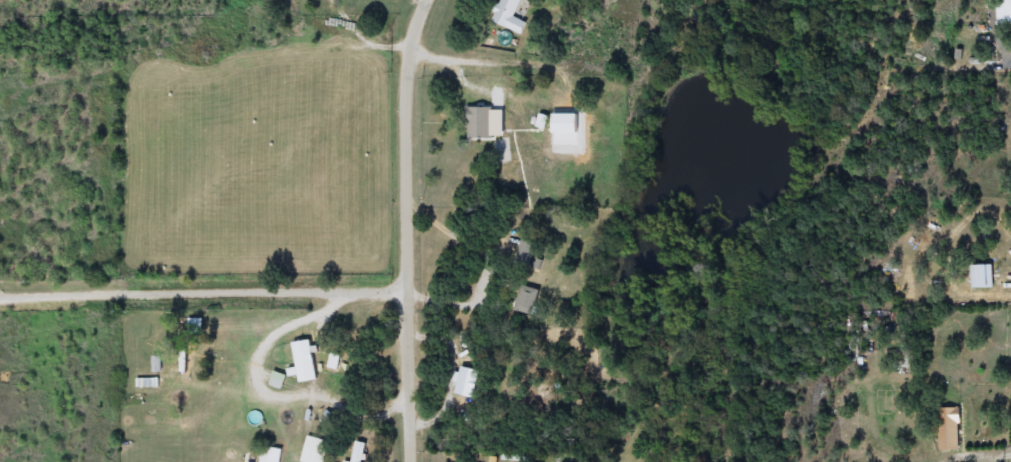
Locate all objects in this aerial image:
building: (1004, 13)
building: (510, 16)
road: (362, 36)
road: (1001, 48)
building: (482, 123)
road: (407, 229)
building: (527, 251)
road: (487, 262)
road: (203, 283)
building: (527, 299)
road: (299, 312)
building: (196, 324)
building: (186, 360)
building: (306, 361)
road: (454, 373)
building: (279, 380)
building: (467, 382)
building: (950, 429)
building: (315, 450)
building: (359, 452)
building: (271, 454)

